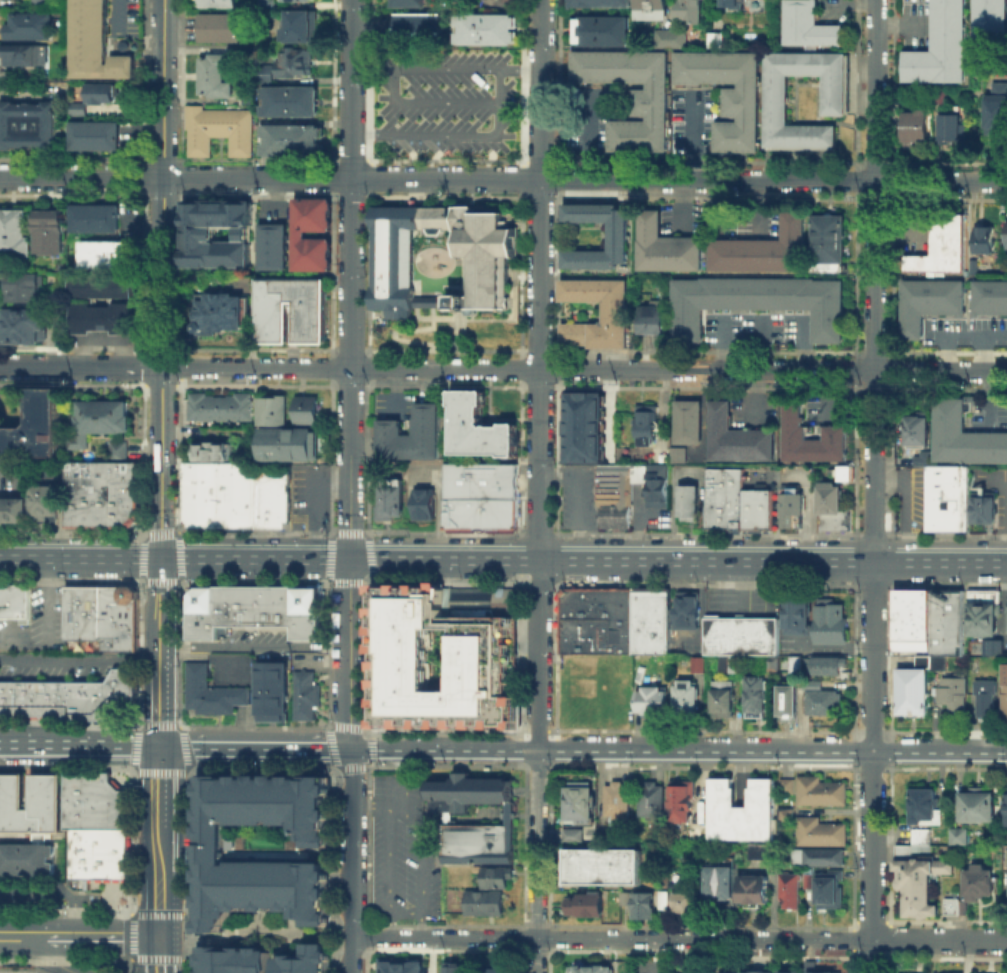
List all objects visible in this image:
building: (291, 0)
road: (853, 0)
building: (408, 2)
building: (42, 3)
building: (216, 3)
building: (599, 3)
building: (731, 3)
building: (267, 4)
building: (652, 8)
building: (688, 10)
parking lot: (835, 11)
road: (115, 12)
building: (416, 22)
road: (901, 22)
building: (990, 22)
building: (299, 24)
building: (808, 24)
parking lot: (917, 24)
building: (32, 26)
building: (220, 26)
building: (485, 28)
building: (601, 29)
building: (670, 36)
building: (717, 38)
building: (98, 45)
building: (939, 46)
building: (247, 53)
building: (28, 56)
building: (293, 61)
road: (405, 66)
building: (265, 71)
building: (215, 74)
building: (103, 93)
building: (727, 93)
building: (833, 93)
building: (940, 94)
building: (248, 95)
building: (289, 100)
parking lot: (443, 100)
building: (649, 100)
building: (74, 108)
building: (996, 108)
parking lot: (589, 118)
parking lot: (691, 118)
building: (915, 125)
building: (29, 126)
building: (948, 126)
building: (217, 128)
road: (455, 134)
road: (590, 134)
road: (693, 134)
building: (97, 136)
building: (289, 138)
road: (503, 178)
road: (273, 192)
road: (682, 203)
road: (715, 205)
road: (756, 205)
parking lot: (272, 210)
building: (94, 217)
parking lot: (129, 217)
parking lot: (683, 217)
parking lot: (743, 218)
road: (142, 221)
building: (48, 230)
building: (14, 231)
road: (898, 231)
parking lot: (909, 231)
building: (198, 232)
building: (300, 233)
building: (620, 235)
building: (1006, 235)
building: (827, 236)
building: (983, 238)
building: (272, 245)
building: (666, 245)
building: (941, 245)
building: (763, 247)
building: (106, 252)
building: (972, 265)
building: (827, 266)
building: (393, 274)
road: (161, 279)
road: (350, 280)
building: (24, 286)
building: (102, 286)
building: (989, 296)
building: (58, 300)
building: (757, 301)
building: (927, 301)
building: (616, 311)
building: (221, 313)
building: (102, 316)
building: (652, 317)
building: (24, 324)
building: (313, 324)
parking lot: (757, 330)
building: (58, 331)
parking lot: (964, 331)
road: (966, 331)
parking lot: (102, 333)
road: (723, 340)
road: (760, 340)
road: (802, 340)
road: (945, 349)
road: (980, 349)
road: (503, 366)
road: (394, 390)
road: (989, 395)
parking lot: (393, 403)
building: (219, 405)
building: (306, 408)
building: (272, 409)
parking lot: (756, 412)
parking lot: (826, 413)
parking lot: (987, 413)
building: (98, 419)
building: (689, 422)
building: (34, 426)
building: (478, 426)
building: (648, 426)
building: (586, 427)
building: (915, 428)
building: (412, 434)
building: (965, 434)
building: (737, 438)
building: (812, 438)
building: (288, 443)
building: (117, 449)
building: (213, 449)
building: (677, 454)
building: (922, 457)
road: (8, 470)
building: (844, 471)
parking lot: (13, 472)
parking lot: (425, 473)
parking lot: (988, 477)
road: (996, 478)
road: (542, 486)
road: (874, 486)
building: (101, 493)
building: (217, 494)
building: (270, 495)
parking lot: (309, 495)
building: (480, 495)
building: (657, 497)
parking lot: (910, 497)
building: (946, 497)
building: (390, 498)
building: (726, 499)
building: (45, 500)
building: (614, 500)
road: (316, 501)
parking lot: (577, 502)
building: (424, 503)
road: (905, 504)
road: (62, 505)
road: (438, 505)
building: (690, 505)
building: (982, 506)
building: (14, 507)
building: (834, 508)
building: (760, 510)
building: (791, 510)
road: (1004, 520)
road: (80, 558)
traffic signals: (160, 559)
traffic signals: (351, 560)
road: (583, 560)
road: (159, 594)
building: (979, 598)
road: (47, 600)
building: (478, 600)
building: (14, 601)
parking lot: (744, 605)
building: (223, 608)
building: (293, 608)
parking lot: (46, 616)
building: (100, 616)
building: (798, 616)
building: (1005, 617)
building: (906, 621)
building: (979, 621)
building: (616, 622)
building: (833, 624)
building: (943, 624)
building: (688, 627)
parking lot: (13, 634)
building: (743, 636)
road: (255, 644)
building: (998, 648)
road: (159, 650)
road: (351, 653)
road: (79, 656)
building: (485, 656)
building: (797, 662)
building: (736, 664)
building: (700, 666)
building: (828, 666)
parking lot: (50, 668)
building: (813, 682)
building: (270, 690)
building: (952, 691)
building: (211, 693)
building: (907, 694)
building: (69, 695)
building: (303, 695)
building: (684, 696)
building: (724, 698)
building: (651, 699)
building: (756, 699)
building: (988, 700)
building: (790, 702)
building: (1006, 702)
building: (827, 705)
road: (158, 707)
road: (79, 744)
traffic signals: (158, 745)
road: (254, 745)
traffic signals: (351, 747)
road: (678, 751)
building: (785, 785)
road: (157, 786)
building: (818, 790)
building: (93, 800)
building: (652, 801)
building: (30, 802)
building: (683, 803)
road: (379, 804)
building: (581, 804)
building: (978, 805)
building: (1006, 807)
building: (619, 808)
building: (926, 808)
building: (743, 812)
building: (784, 814)
building: (507, 818)
building: (818, 831)
building: (698, 836)
building: (961, 836)
building: (575, 837)
building: (923, 838)
road: (351, 841)
parking lot: (398, 848)
road: (157, 850)
building: (97, 852)
building: (211, 853)
building: (761, 853)
building: (24, 857)
building: (820, 859)
building: (602, 864)
building: (675, 877)
building: (492, 878)
building: (723, 880)
building: (810, 882)
building: (981, 882)
building: (917, 883)
road: (56, 888)
road: (426, 892)
building: (754, 893)
building: (790, 893)
building: (832, 893)
parking lot: (36, 894)
building: (482, 901)
building: (681, 901)
building: (637, 902)
building: (586, 903)
road: (156, 904)
building: (950, 905)
road: (252, 928)
road: (77, 937)
traffic signals: (156, 937)
road: (678, 938)
road: (149, 954)
road: (166, 954)
road: (350, 955)
road: (44, 956)
building: (231, 960)
building: (300, 961)
building: (810, 964)
building: (22, 967)
parking lot: (22, 967)
building: (402, 967)
building: (459, 969)
building: (592, 970)
building: (787, 970)
building: (498, 971)
building: (757, 971)
building: (725, 972)
building: (954, 972)

